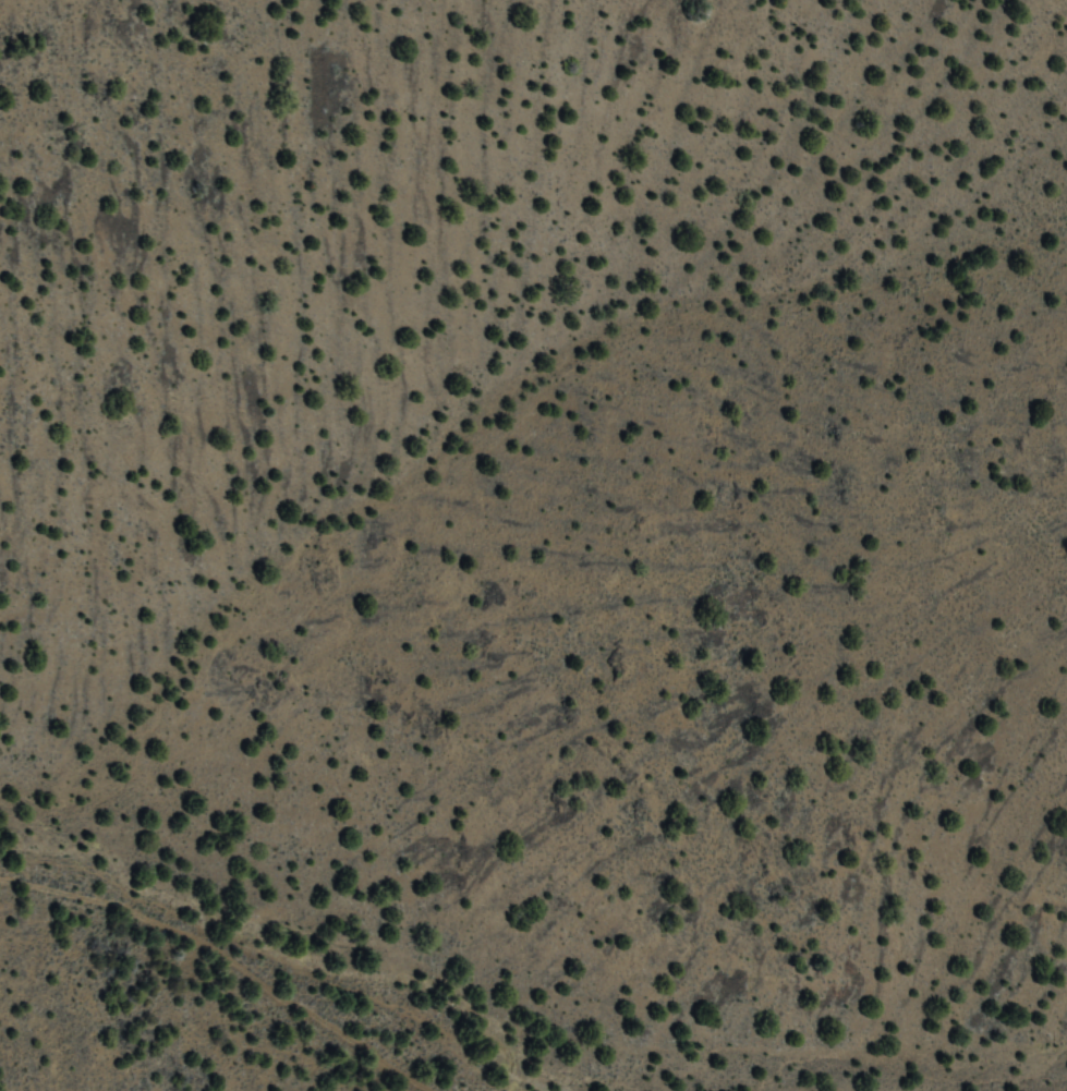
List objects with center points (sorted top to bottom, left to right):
road: (231, 958)

